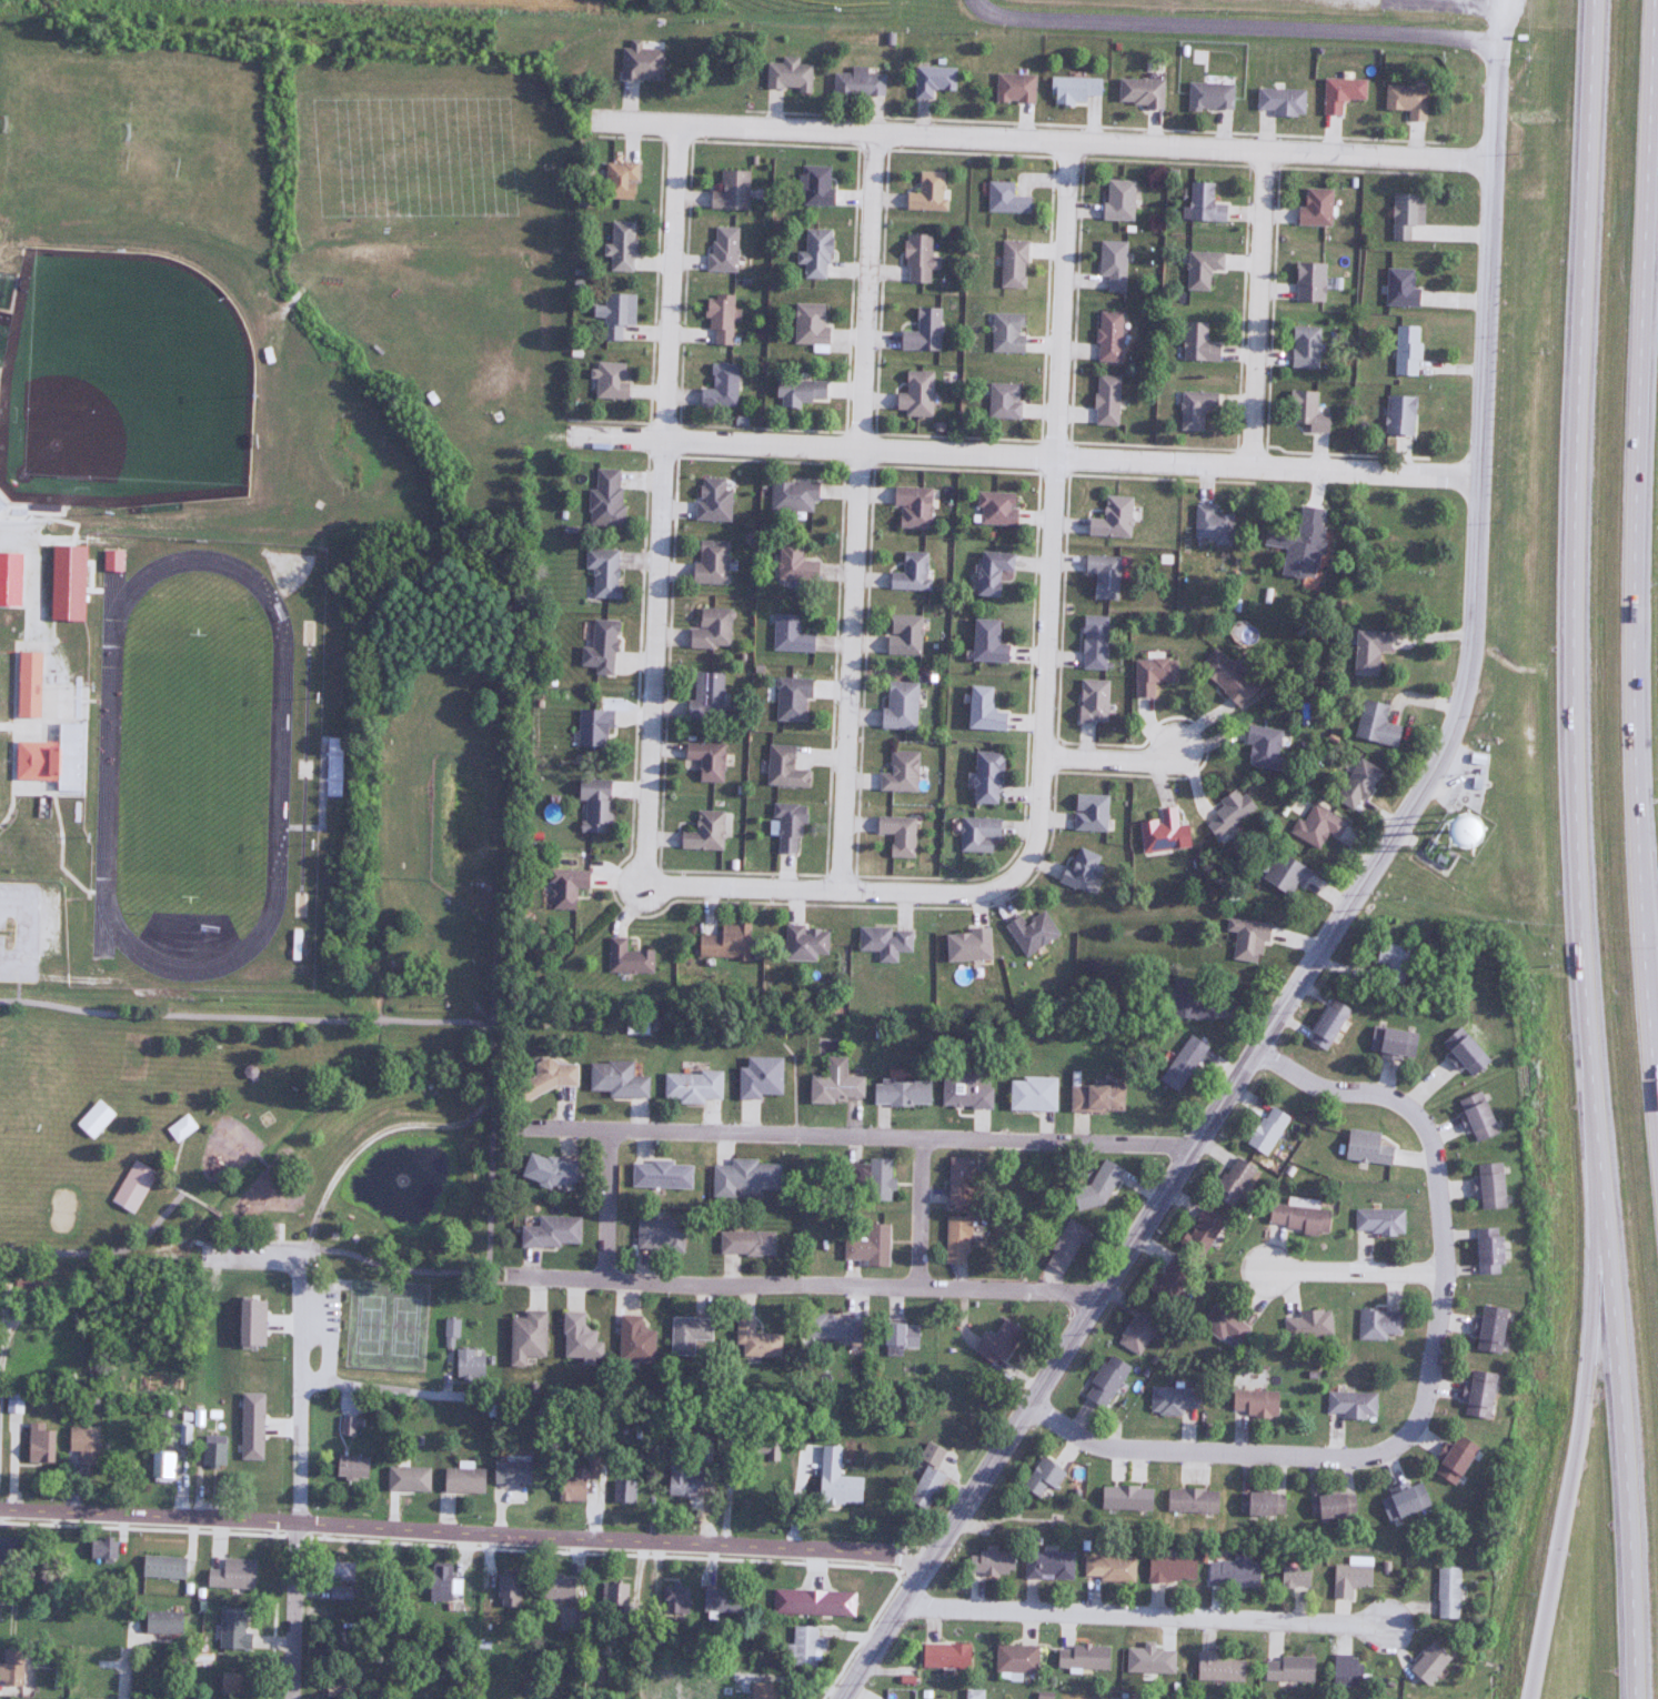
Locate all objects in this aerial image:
park: (868, 1)
road: (1233, 27)
building: (640, 62)
building: (787, 76)
building: (932, 80)
building: (856, 83)
building: (1013, 89)
building: (1072, 90)
building: (1138, 92)
building: (1339, 93)
building: (1208, 97)
building: (1280, 101)
building: (1405, 101)
road: (1039, 141)
building: (619, 179)
building: (813, 187)
building: (730, 191)
building: (926, 193)
building: (1004, 200)
building: (1117, 200)
building: (1203, 204)
building: (1314, 208)
building: (1404, 214)
building: (619, 247)
building: (722, 250)
building: (813, 254)
building: (917, 259)
building: (1011, 264)
building: (1112, 264)
building: (1199, 269)
building: (1308, 282)
building: (1399, 288)
road: (1257, 308)
building: (614, 314)
building: (719, 319)
building: (808, 324)
building: (922, 331)
building: (1005, 333)
building: (1107, 336)
building: (1195, 343)
building: (1303, 348)
building: (1405, 351)
park: (131, 379)
building: (611, 380)
building: (719, 388)
building: (797, 392)
building: (914, 395)
building: (1104, 400)
building: (1002, 401)
building: (1194, 409)
building: (1305, 412)
building: (1398, 415)
road: (1025, 454)
building: (791, 495)
building: (606, 497)
building: (711, 499)
road: (1051, 503)
building: (911, 505)
road: (659, 506)
building: (994, 507)
road: (854, 513)
building: (1111, 517)
road: (1644, 521)
building: (1210, 524)
building: (1299, 543)
building: (110, 559)
building: (709, 561)
building: (792, 561)
building: (604, 571)
building: (989, 571)
building: (910, 572)
building: (1102, 575)
building: (710, 629)
building: (787, 632)
building: (902, 634)
building: (984, 641)
building: (1093, 642)
building: (600, 644)
building: (1367, 651)
building: (1152, 674)
building: (1225, 676)
building: (26, 684)
building: (704, 696)
building: (790, 698)
building: (1091, 701)
building: (898, 705)
building: (979, 708)
building: (1374, 724)
building: (594, 725)
park: (420, 731)
building: (1262, 746)
road: (1111, 758)
building: (705, 760)
building: (32, 761)
stadium: (190, 762)
building: (782, 767)
building: (900, 772)
building: (984, 776)
building: (1355, 783)
building: (595, 802)
building: (1088, 812)
building: (1316, 825)
building: (785, 826)
building: (1158, 831)
water tower: (1459, 831)
building: (703, 832)
building: (896, 834)
building: (975, 834)
road: (1578, 849)
building: (1079, 868)
building: (1283, 874)
building: (565, 883)
road: (841, 893)
road: (1345, 906)
parking lot: (27, 926)
building: (1029, 931)
building: (1246, 939)
building: (724, 942)
building: (884, 942)
building: (804, 943)
building: (966, 945)
building: (626, 958)
building: (1390, 964)
building: (1187, 1003)
building: (1325, 1024)
building: (1391, 1043)
building: (1460, 1052)
building: (1180, 1063)
building: (546, 1076)
building: (758, 1077)
building: (614, 1079)
building: (833, 1083)
building: (691, 1087)
building: (965, 1089)
building: (898, 1092)
building: (1031, 1094)
building: (1094, 1098)
road: (484, 1106)
building: (1475, 1116)
building: (93, 1119)
building: (182, 1126)
building: (1266, 1129)
road: (856, 1135)
building: (1365, 1147)
building: (552, 1168)
building: (660, 1174)
building: (870, 1177)
building: (743, 1178)
building: (1101, 1180)
building: (958, 1182)
building: (1232, 1182)
building: (133, 1186)
building: (1487, 1186)
road: (1435, 1193)
road: (605, 1205)
park: (60, 1209)
road: (918, 1210)
building: (1298, 1218)
building: (1377, 1220)
building: (551, 1228)
building: (1199, 1231)
building: (657, 1236)
building: (954, 1239)
building: (744, 1243)
building: (866, 1246)
building: (1064, 1246)
building: (1484, 1250)
parking lot: (241, 1253)
road: (1356, 1274)
road: (806, 1283)
building: (1167, 1285)
parking lot: (331, 1310)
building: (1222, 1323)
building: (1377, 1323)
building: (1306, 1324)
park: (389, 1326)
building: (828, 1326)
building: (450, 1328)
building: (1487, 1328)
building: (1136, 1333)
building: (686, 1334)
building: (897, 1334)
building: (524, 1337)
building: (577, 1338)
building: (754, 1339)
building: (633, 1340)
building: (996, 1341)
road: (1, 1359)
building: (468, 1365)
building: (1104, 1381)
road: (374, 1388)
building: (1476, 1394)
building: (1172, 1400)
building: (13, 1403)
building: (1252, 1403)
building: (1349, 1404)
road: (302, 1416)
building: (346, 1431)
building: (39, 1441)
building: (82, 1446)
building: (211, 1451)
road: (1209, 1451)
road: (1570, 1457)
building: (1451, 1459)
building: (161, 1466)
building: (350, 1467)
building: (510, 1472)
building: (1041, 1477)
building: (406, 1479)
building: (461, 1480)
building: (679, 1480)
building: (834, 1480)
building: (572, 1485)
building: (924, 1488)
building: (623, 1491)
building: (1125, 1498)
building: (1190, 1500)
building: (1400, 1500)
building: (1260, 1504)
building: (1330, 1506)
road: (464, 1530)
building: (8, 1547)
building: (101, 1550)
building: (989, 1564)
building: (1046, 1565)
building: (161, 1567)
building: (1107, 1569)
building: (1168, 1569)
building: (339, 1570)
building: (1230, 1572)
building: (231, 1574)
building: (1290, 1577)
building: (1348, 1579)
building: (438, 1582)
building: (556, 1588)
building: (506, 1589)
building: (340, 1592)
building: (1445, 1592)
building: (835, 1594)
building: (612, 1597)
building: (673, 1599)
building: (722, 1601)
road: (293, 1609)
road: (1145, 1612)
building: (565, 1618)
building: (158, 1622)
building: (13, 1623)
building: (229, 1633)
building: (1142, 1643)
building: (805, 1646)
building: (943, 1656)
building: (1081, 1657)
building: (1014, 1659)
building: (1426, 1663)
building: (1218, 1668)
building: (1287, 1669)
building: (1345, 1670)
building: (10, 1673)
building: (93, 1681)
building: (229, 1685)
building: (332, 1685)
building: (760, 1690)
building: (973, 1695)

